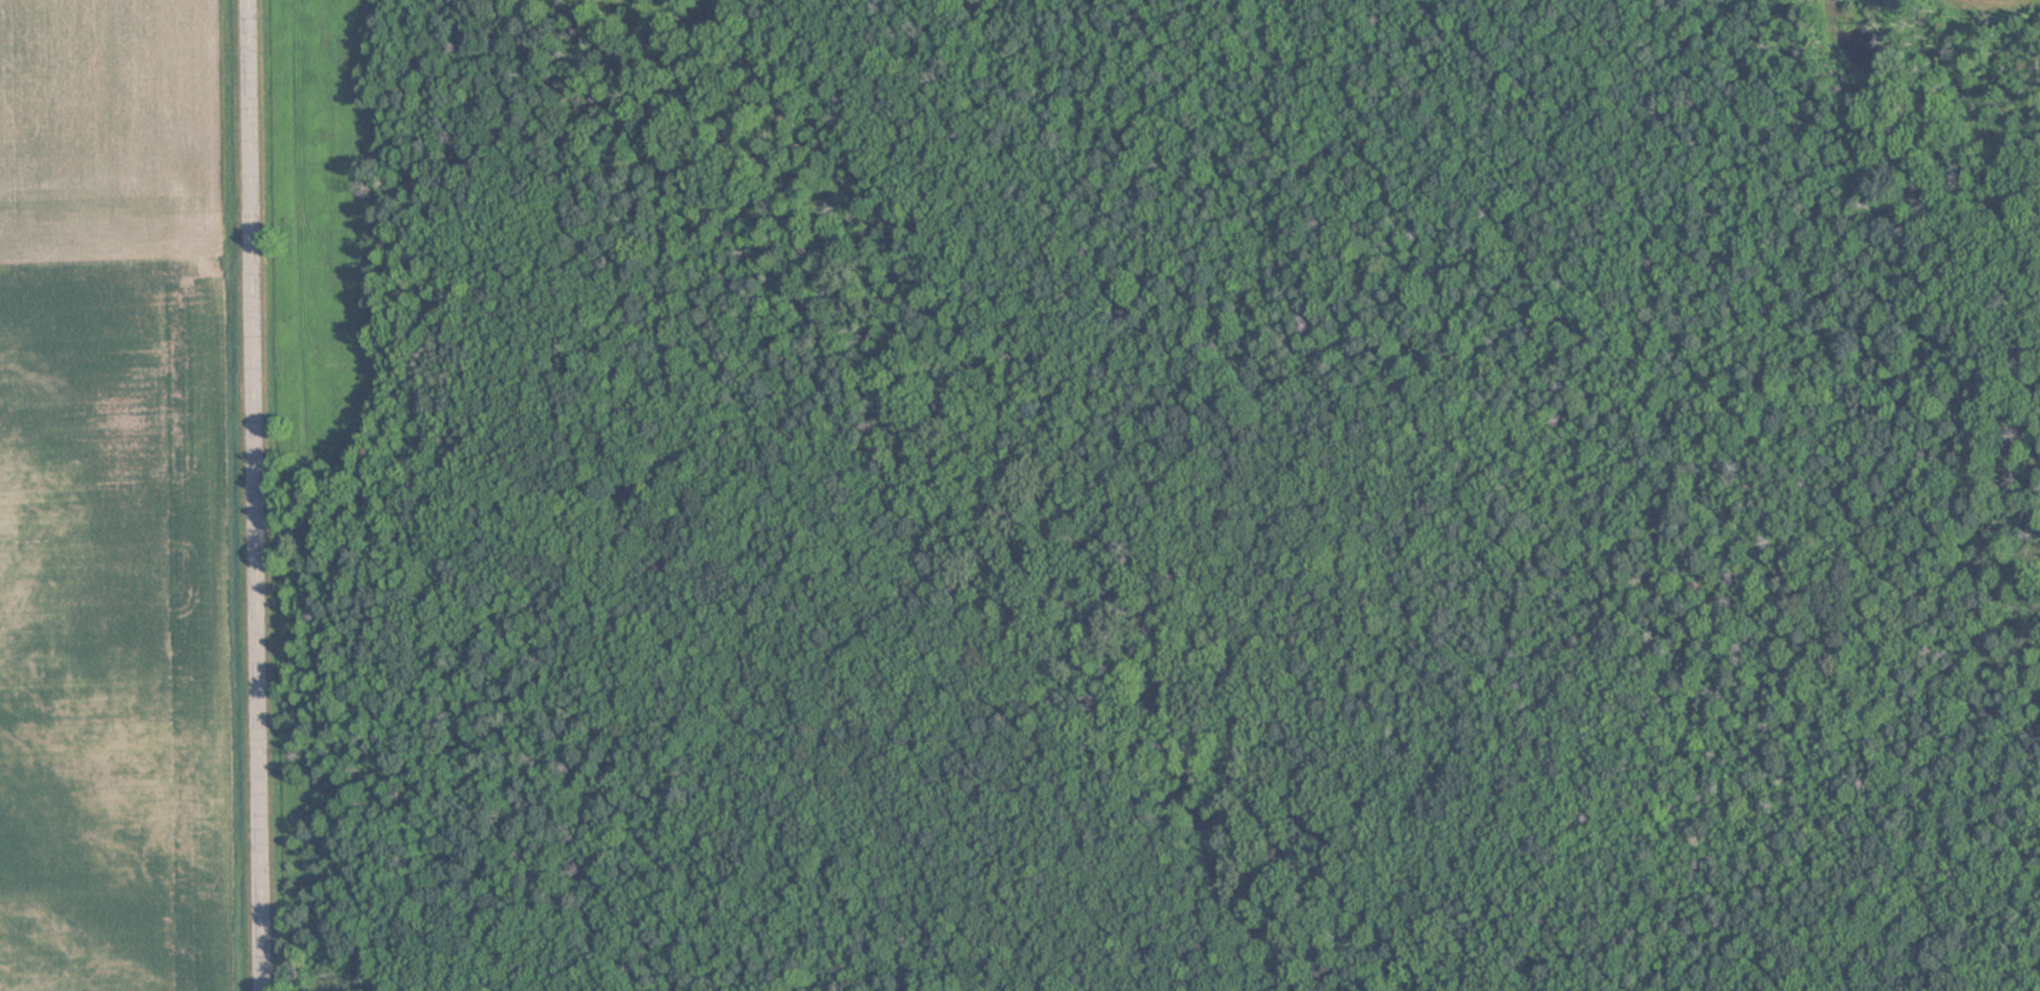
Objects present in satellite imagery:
road: (264, 495)

